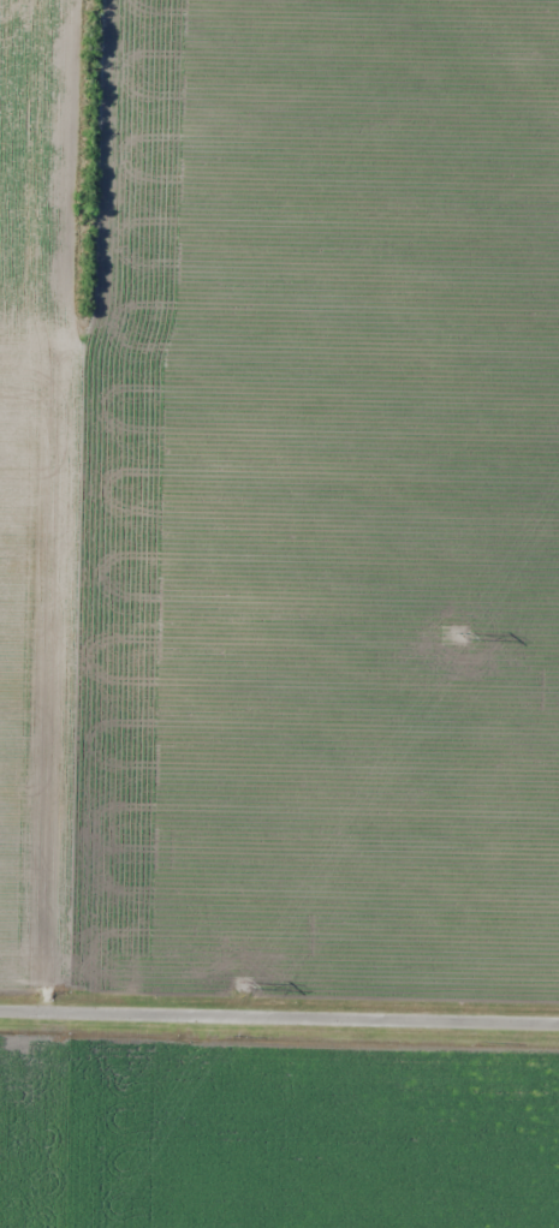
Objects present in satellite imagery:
power tower: (458, 637)
power tower: (245, 986)
road: (279, 1011)

